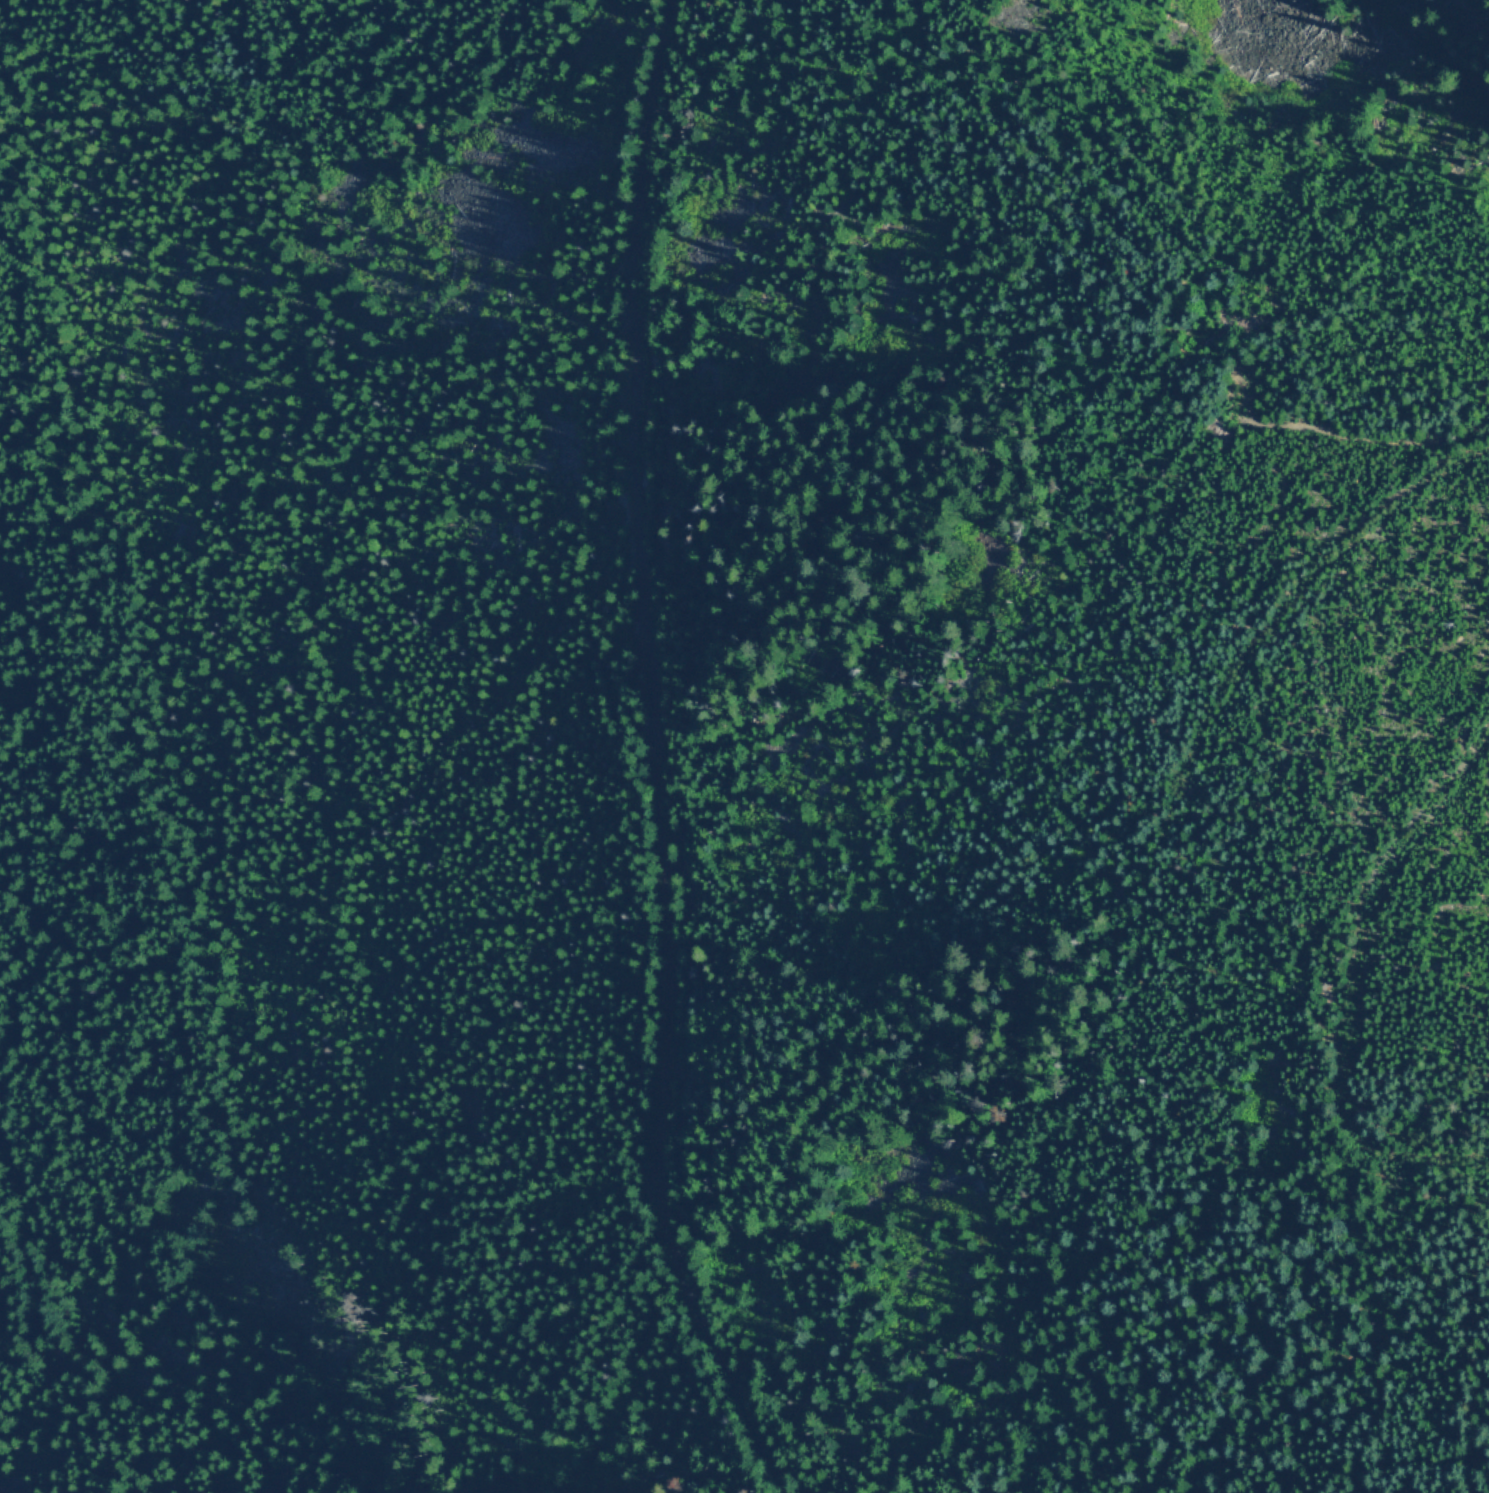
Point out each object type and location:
road: (1359, 439)
road: (631, 755)
road: (1361, 975)
road: (20, 1440)

